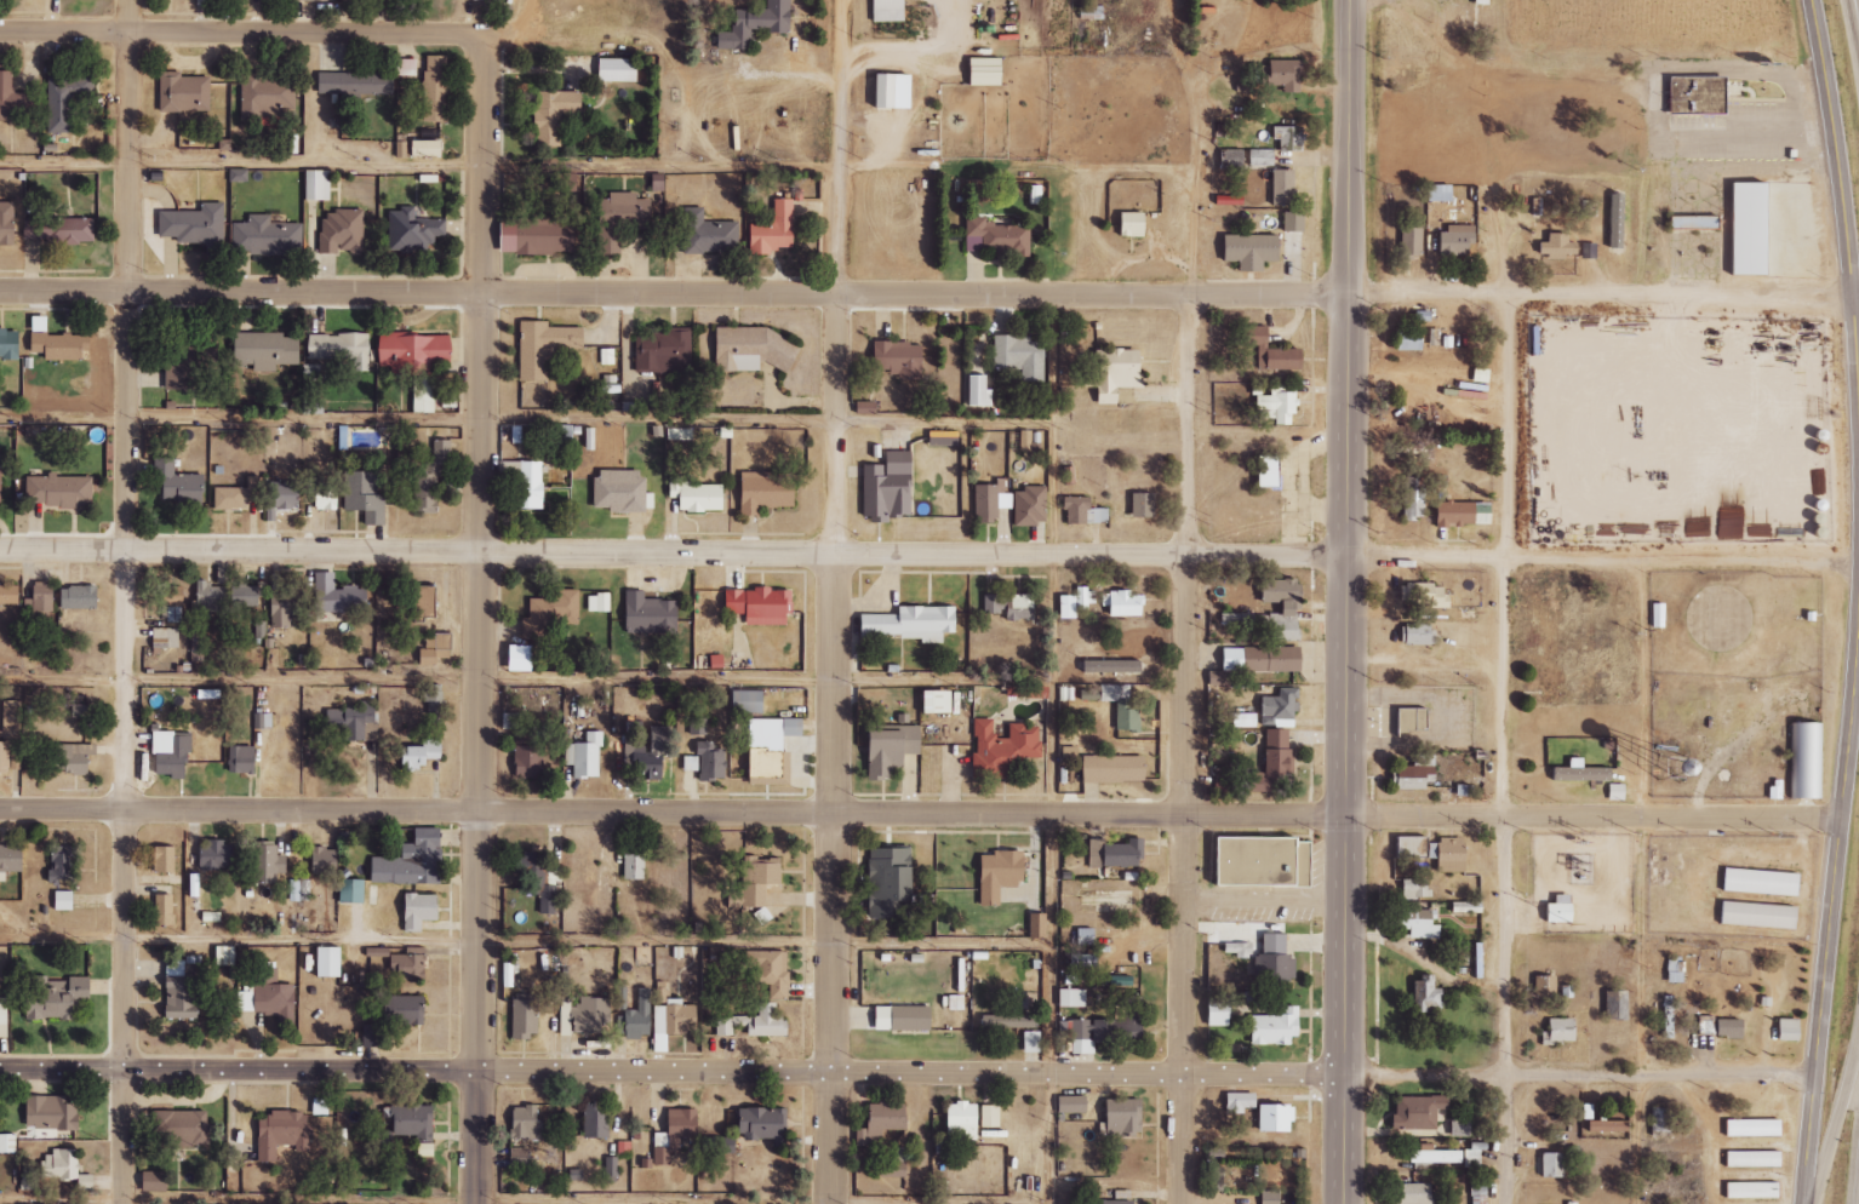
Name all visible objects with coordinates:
building: (204, 1)
building: (1492, 5)
building: (898, 11)
building: (1092, 12)
building: (1102, 17)
road: (1853, 22)
building: (768, 27)
road: (245, 31)
road: (519, 35)
building: (406, 67)
building: (619, 69)
building: (995, 75)
building: (1294, 78)
building: (356, 84)
building: (436, 88)
building: (184, 92)
building: (903, 92)
building: (268, 94)
building: (67, 96)
building: (1706, 97)
building: (13, 98)
building: (555, 114)
building: (1299, 141)
building: (429, 148)
building: (1260, 156)
building: (1271, 160)
building: (1242, 161)
road: (419, 164)
building: (239, 174)
building: (319, 184)
building: (1293, 189)
building: (1435, 193)
building: (1449, 196)
building: (1046, 199)
building: (1546, 208)
road: (1843, 210)
building: (1598, 211)
building: (617, 218)
building: (7, 223)
building: (1704, 223)
building: (1303, 224)
building: (198, 225)
building: (1143, 227)
building: (777, 229)
building: (59, 230)
building: (413, 230)
building: (1760, 230)
building: (342, 231)
building: (709, 233)
building: (539, 234)
building: (267, 236)
building: (1407, 240)
building: (1009, 241)
building: (1451, 241)
building: (1470, 243)
building: (1422, 245)
building: (1551, 246)
building: (1567, 251)
building: (1260, 253)
road: (926, 294)
building: (1403, 339)
building: (58, 343)
building: (10, 344)
building: (545, 346)
building: (341, 348)
building: (265, 350)
building: (665, 350)
building: (755, 350)
building: (413, 352)
building: (1281, 352)
building: (1020, 356)
building: (899, 359)
building: (183, 360)
building: (1122, 377)
building: (979, 391)
building: (1279, 406)
road: (531, 425)
building: (943, 438)
building: (1279, 471)
building: (430, 478)
building: (525, 483)
building: (179, 485)
building: (0, 486)
building: (890, 487)
building: (61, 491)
building: (620, 491)
building: (767, 491)
building: (239, 494)
building: (327, 495)
building: (365, 497)
building: (282, 498)
building: (703, 498)
building: (991, 501)
building: (1409, 504)
building: (1144, 505)
building: (1030, 506)
building: (1083, 511)
building: (1457, 514)
road: (930, 550)
building: (10, 595)
building: (1419, 595)
building: (44, 596)
building: (339, 596)
building: (80, 597)
building: (223, 597)
road: (127, 601)
road: (836, 601)
building: (427, 602)
building: (599, 602)
road: (1346, 602)
building: (1077, 603)
building: (1127, 603)
building: (172, 604)
building: (761, 606)
building: (1012, 606)
building: (287, 608)
building: (1283, 608)
building: (551, 612)
building: (651, 614)
road: (481, 617)
building: (913, 624)
building: (1413, 635)
building: (165, 637)
building: (435, 649)
building: (522, 659)
building: (1257, 661)
road: (531, 682)
building: (1029, 692)
building: (1092, 694)
building: (939, 701)
building: (749, 703)
building: (1280, 706)
building: (1128, 716)
building: (11, 719)
building: (263, 721)
building: (516, 721)
building: (1407, 721)
building: (353, 722)
building: (698, 722)
building: (1218, 744)
building: (1005, 747)
road: (1060, 749)
road: (1183, 749)
road: (1504, 749)
building: (893, 750)
building: (172, 755)
building: (646, 755)
building: (585, 756)
building: (73, 758)
building: (8, 759)
building: (242, 759)
building: (528, 762)
building: (708, 762)
building: (1275, 762)
building: (1815, 764)
building: (1115, 769)
building: (1409, 774)
building: (1590, 775)
building: (1224, 785)
road: (920, 812)
building: (1429, 852)
building: (215, 854)
building: (1116, 854)
building: (12, 859)
building: (166, 859)
building: (322, 860)
building: (1271, 862)
building: (268, 865)
building: (635, 866)
building: (62, 867)
building: (1009, 877)
road: (1654, 882)
building: (761, 883)
building: (891, 883)
building: (1771, 884)
building: (1412, 888)
building: (294, 890)
building: (353, 891)
building: (548, 899)
building: (64, 901)
road: (1831, 908)
building: (164, 910)
building: (1555, 910)
building: (421, 911)
building: (1769, 917)
building: (1413, 923)
building: (1037, 925)
building: (1048, 928)
building: (1087, 940)
road: (530, 947)
building: (378, 952)
building: (1241, 954)
building: (225, 956)
building: (1085, 961)
building: (331, 962)
building: (1283, 963)
building: (410, 964)
building: (176, 969)
building: (771, 971)
building: (1540, 986)
building: (268, 996)
building: (1423, 996)
building: (56, 998)
building: (1072, 998)
building: (182, 1001)
building: (1611, 1005)
building: (407, 1010)
building: (584, 1016)
building: (1229, 1016)
building: (1668, 1016)
building: (4, 1017)
building: (525, 1017)
building: (670, 1019)
building: (904, 1019)
building: (1011, 1021)
building: (755, 1022)
building: (1723, 1028)
building: (1285, 1030)
building: (1556, 1030)
building: (1783, 1030)
building: (1099, 1033)
building: (372, 1037)
building: (1033, 1042)
road: (908, 1073)
building: (1240, 1102)
building: (1072, 1105)
building: (1412, 1112)
building: (52, 1114)
building: (990, 1116)
building: (1276, 1118)
building: (1125, 1119)
road: (1836, 1120)
building: (413, 1122)
building: (527, 1122)
building: (596, 1122)
building: (963, 1122)
building: (881, 1123)
building: (1602, 1126)
building: (1455, 1128)
building: (1748, 1128)
building: (181, 1129)
building: (284, 1133)
building: (676, 1134)
building: (8, 1143)
building: (719, 1146)
building: (1429, 1156)
building: (519, 1158)
building: (1749, 1159)
building: (61, 1164)
building: (1548, 1165)
building: (611, 1169)
building: (893, 1170)
building: (155, 1181)
building: (29, 1182)
building: (1748, 1191)
building: (1475, 1192)
building: (1409, 1194)
building: (1270, 1197)
road: (297, 1200)
building: (1120, 1202)

